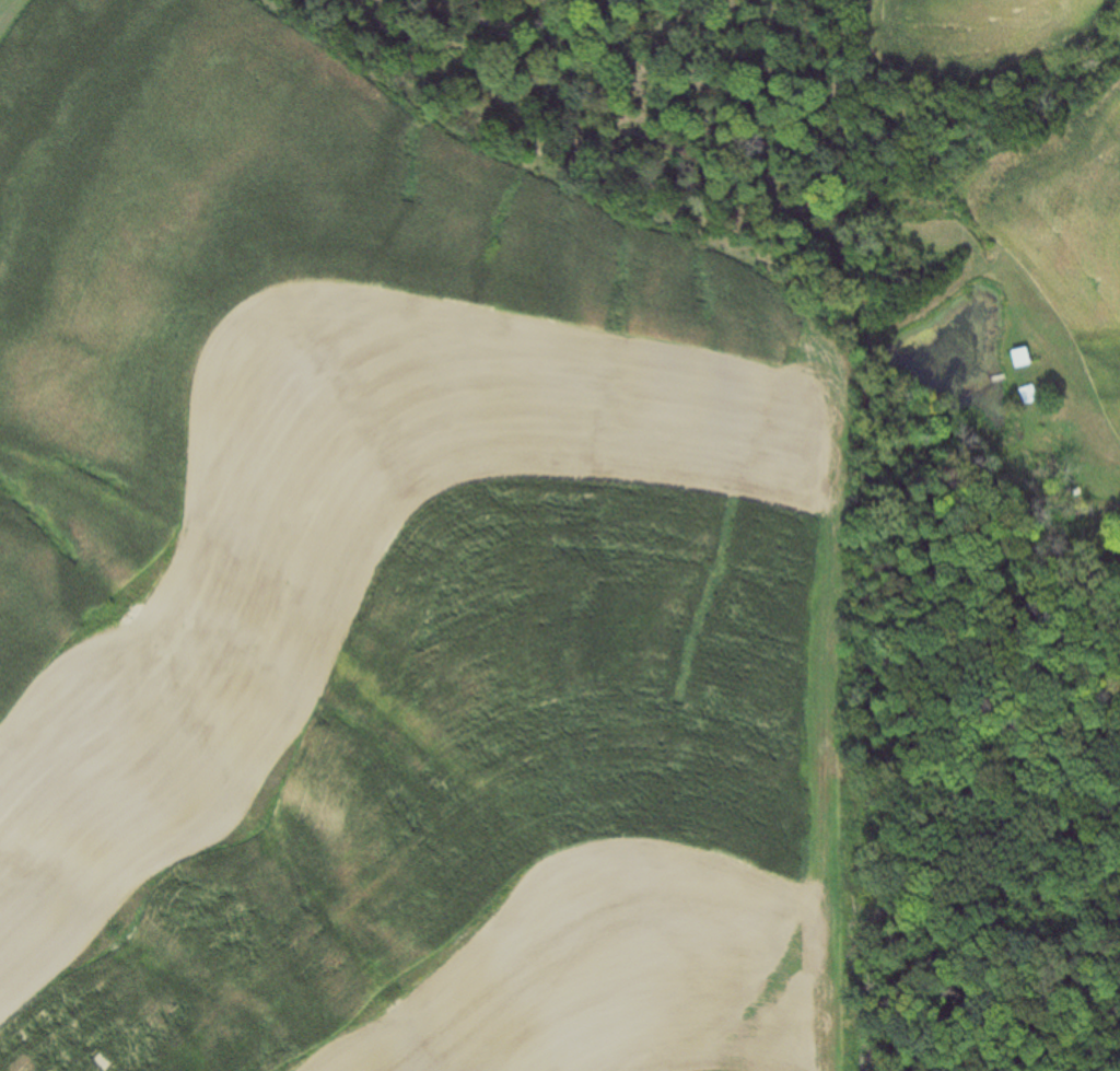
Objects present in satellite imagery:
building: (1018, 358)
building: (1028, 395)

